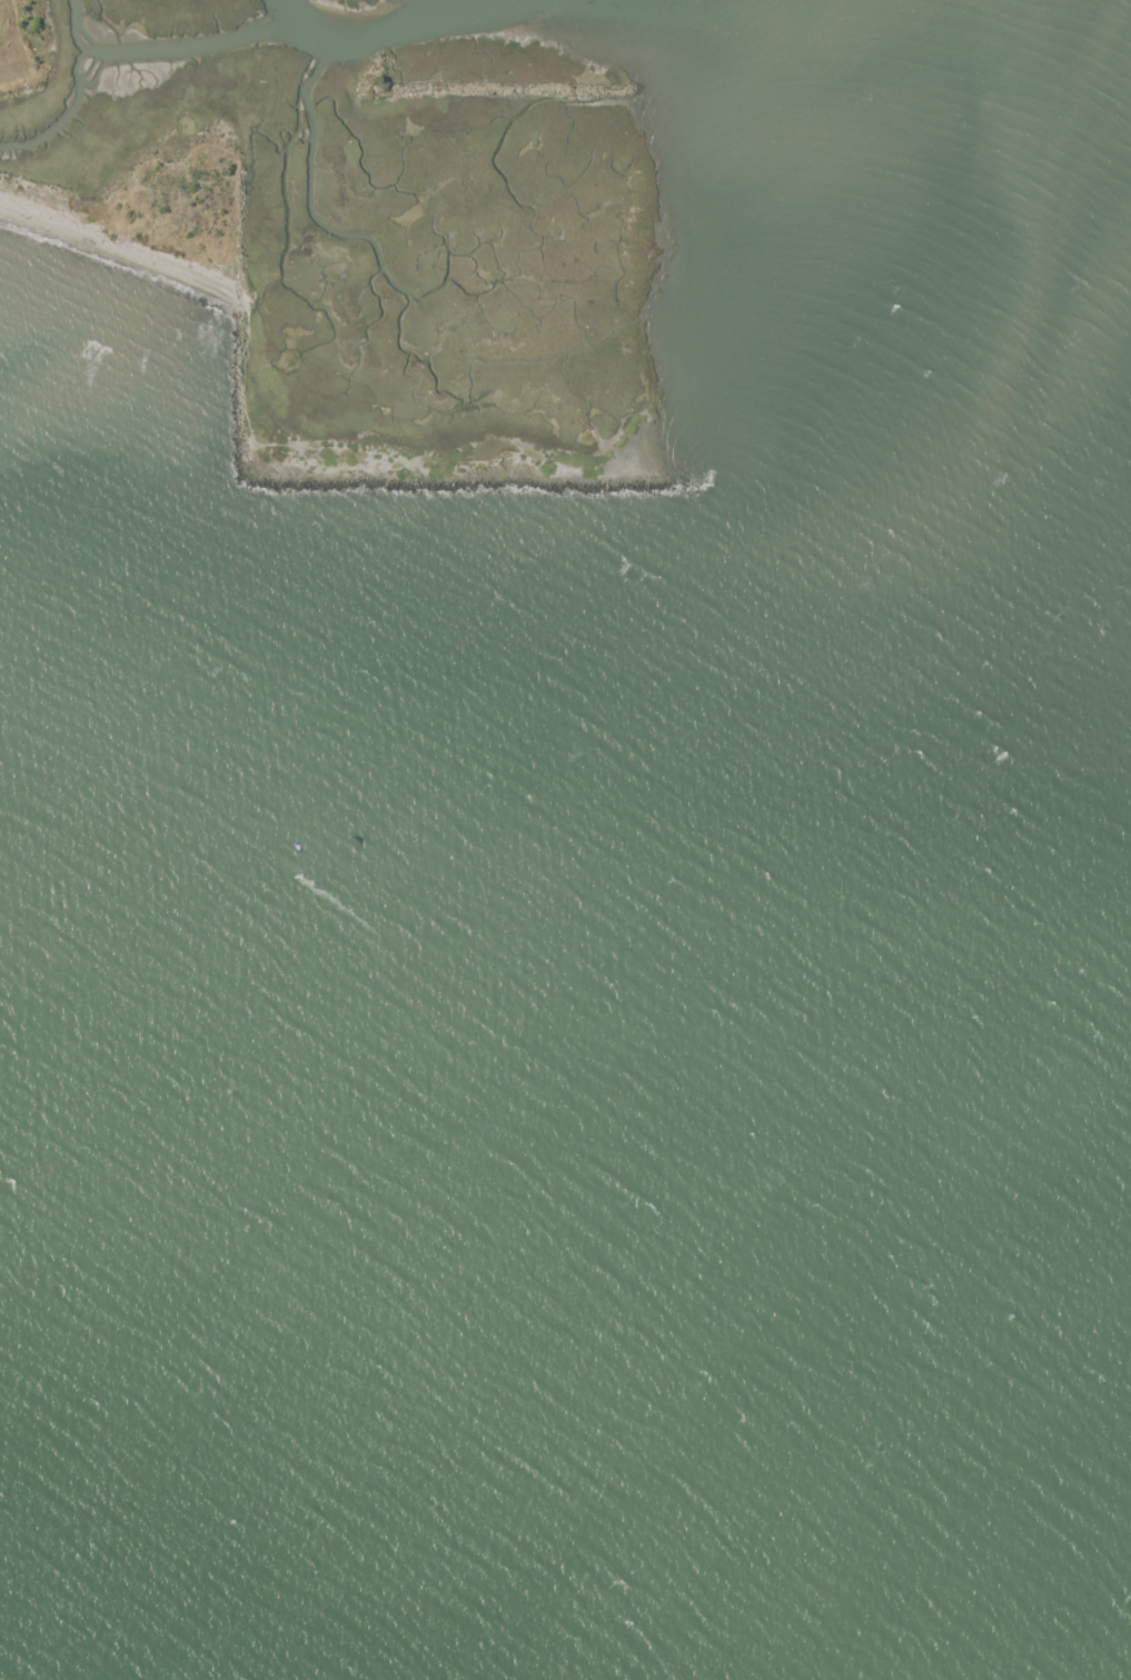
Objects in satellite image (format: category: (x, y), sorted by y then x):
park: (22, 43)
park: (100, 243)

